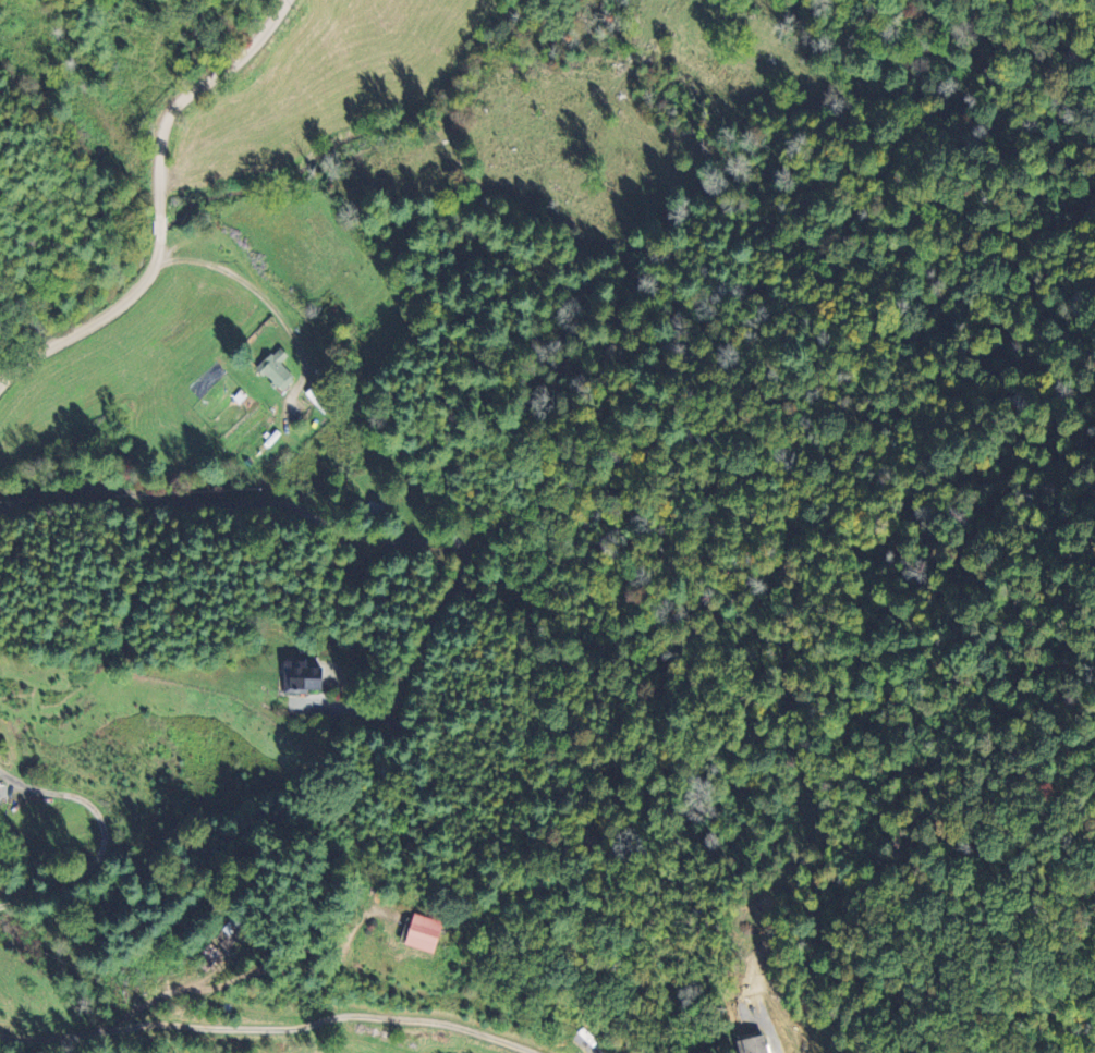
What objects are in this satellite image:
road: (162, 206)
building: (275, 368)
building: (299, 676)
road: (105, 836)
building: (422, 932)
building: (227, 938)
building: (207, 957)
road: (264, 1028)
building: (751, 1044)

